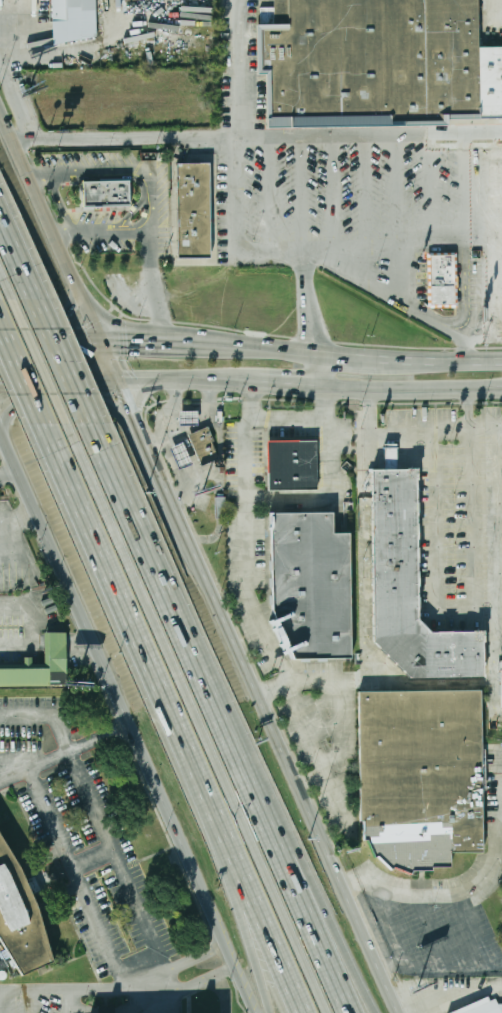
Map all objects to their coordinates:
building: (74, 20)
building: (378, 64)
road: (243, 68)
road: (259, 137)
road: (129, 168)
road: (39, 172)
road: (498, 188)
road: (429, 189)
road: (467, 189)
road: (396, 190)
road: (301, 191)
road: (332, 191)
road: (364, 191)
building: (108, 192)
road: (269, 194)
road: (61, 205)
building: (192, 211)
road: (51, 224)
road: (151, 240)
road: (311, 246)
road: (18, 260)
road: (306, 270)
road: (354, 274)
building: (442, 280)
road: (7, 285)
road: (499, 291)
road: (465, 292)
road: (418, 311)
road: (46, 316)
road: (315, 324)
road: (484, 340)
road: (50, 342)
traffic signals: (128, 342)
road: (133, 342)
road: (174, 342)
road: (198, 343)
road: (267, 347)
road: (393, 356)
road: (483, 359)
road: (41, 362)
road: (63, 362)
road: (324, 369)
road: (21, 376)
road: (131, 379)
road: (59, 380)
traffic signals: (93, 380)
road: (184, 380)
road: (241, 381)
road: (120, 383)
road: (293, 383)
road: (413, 388)
road: (67, 402)
road: (463, 411)
building: (188, 418)
gas station: (188, 418)
road: (306, 428)
road: (371, 434)
road: (437, 434)
building: (204, 446)
road: (153, 456)
building: (181, 456)
gas station: (181, 456)
building: (292, 466)
road: (9, 476)
building: (219, 511)
road: (495, 535)
road: (246, 555)
road: (104, 561)
building: (313, 585)
building: (409, 589)
road: (453, 607)
building: (56, 651)
building: (501, 672)
road: (48, 714)
road: (222, 717)
road: (198, 718)
road: (125, 722)
road: (284, 749)
road: (64, 758)
road: (495, 761)
building: (420, 775)
road: (493, 801)
road: (218, 855)
road: (233, 855)
road: (123, 871)
road: (82, 887)
road: (443, 895)
road: (319, 904)
building: (21, 916)
parking lot: (441, 919)
road: (387, 924)
road: (471, 930)
road: (431, 931)
road: (184, 963)
building: (4, 964)
building: (4, 974)
road: (193, 985)
road: (74, 991)
road: (225, 992)
road: (35, 1002)
building: (481, 1007)

